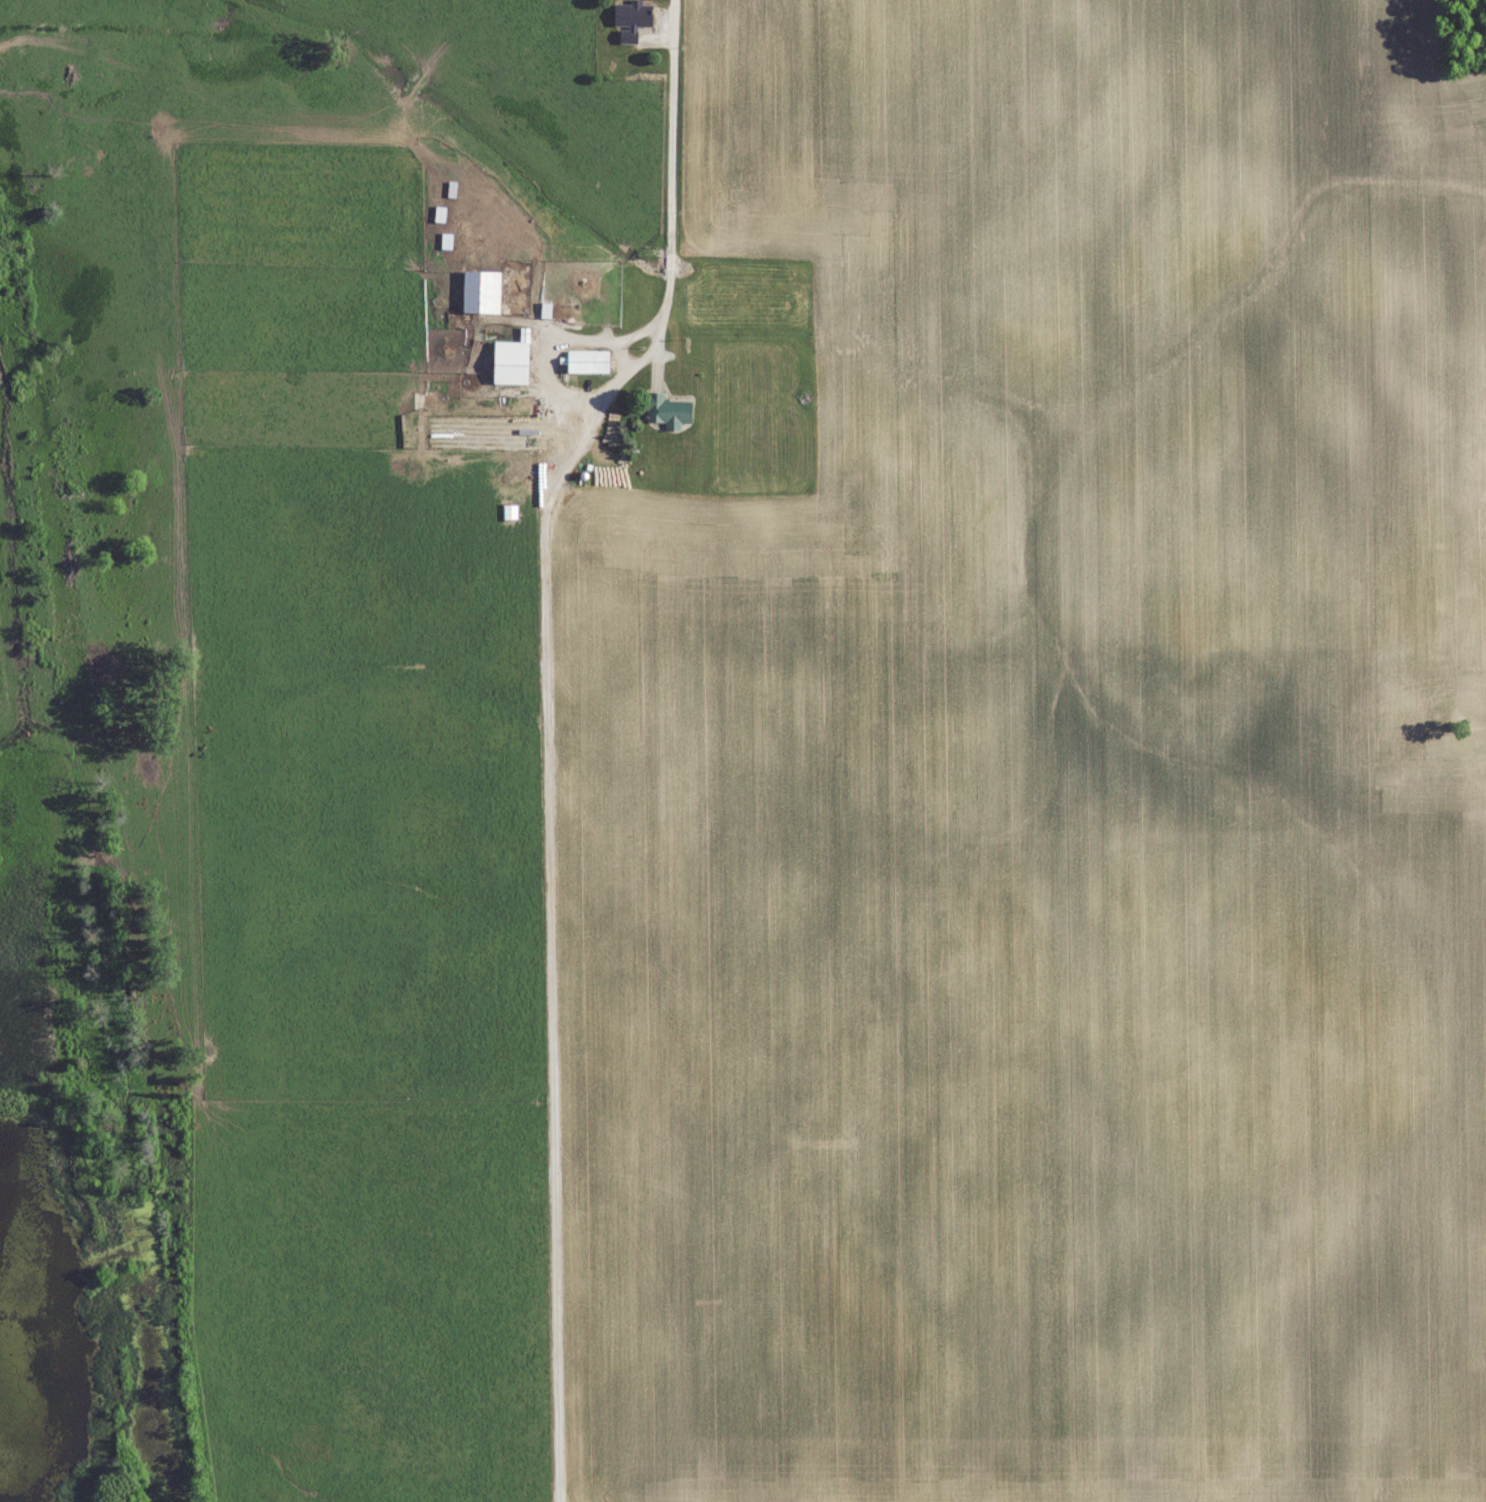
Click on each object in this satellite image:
building: (631, 19)
building: (584, 284)
building: (481, 291)
road: (656, 336)
building: (587, 361)
building: (510, 362)
building: (666, 409)

